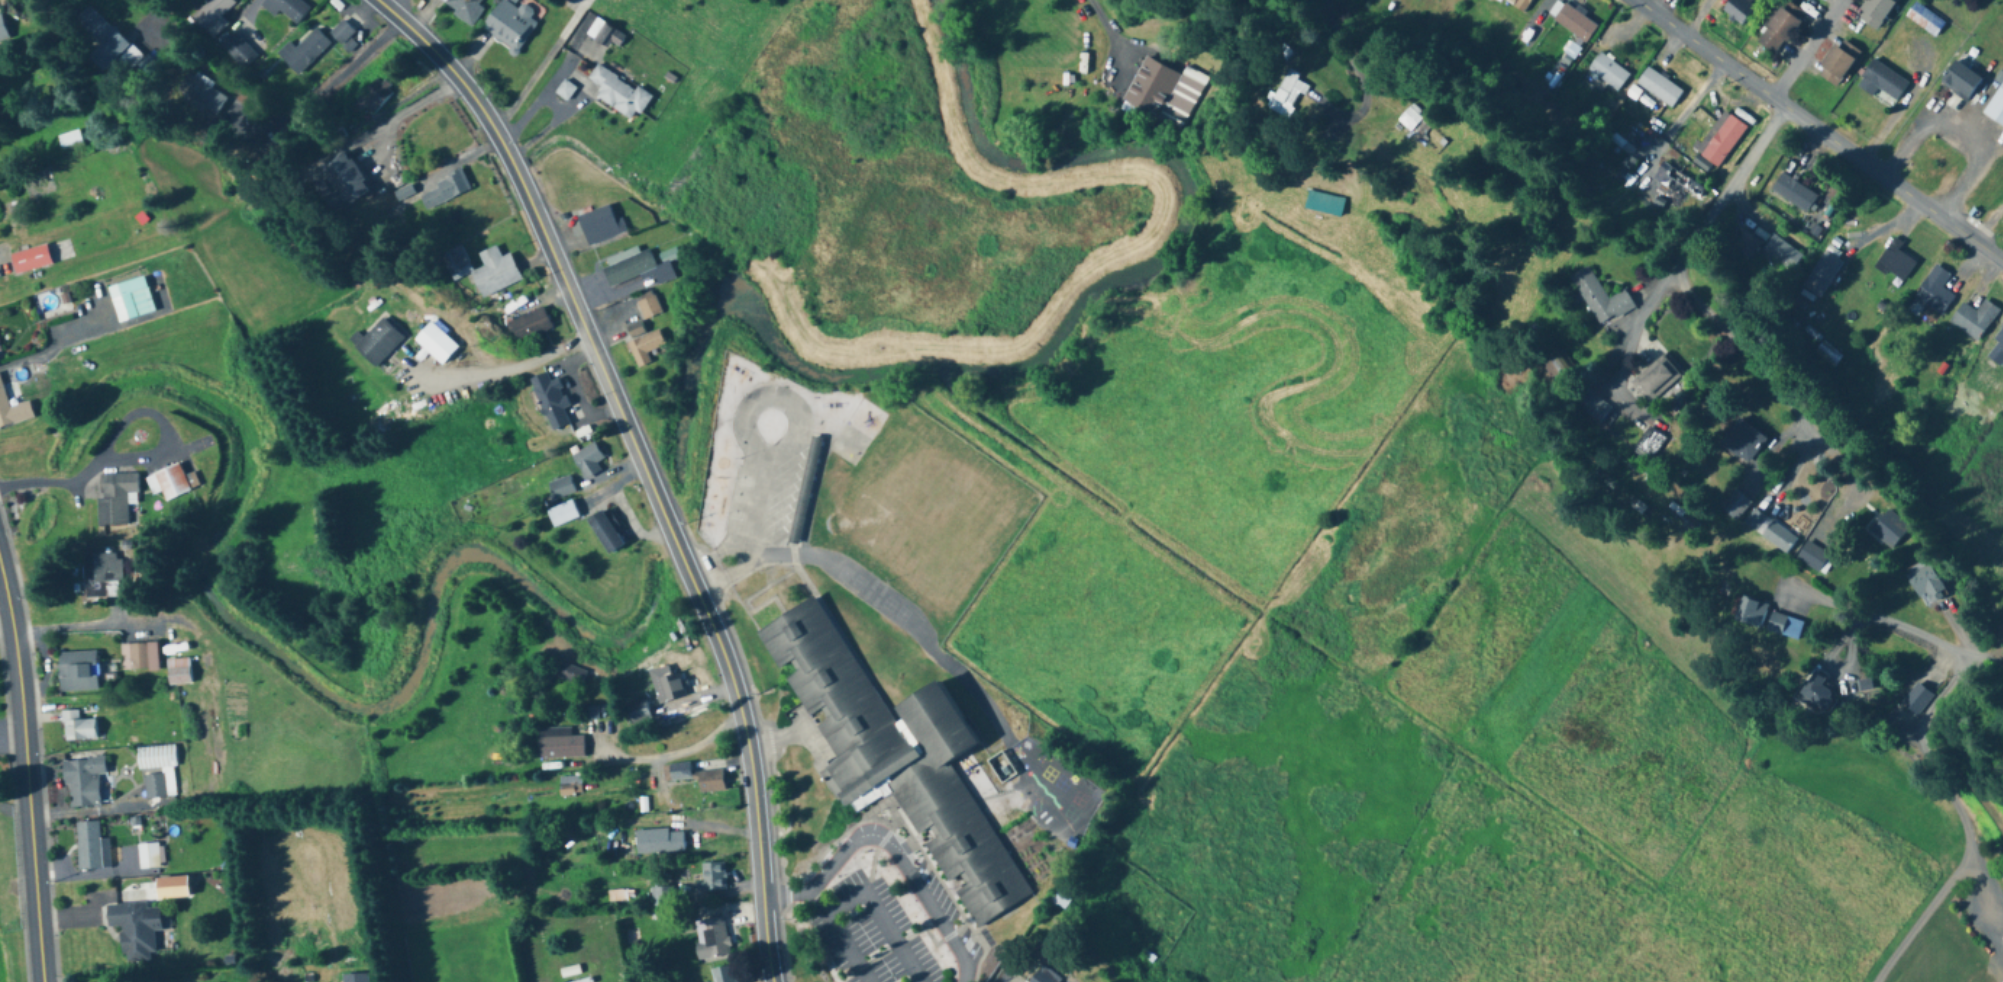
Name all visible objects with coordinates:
building: (1499, 0)
road: (390, 5)
building: (1521, 5)
building: (286, 8)
building: (463, 8)
building: (1738, 10)
building: (1875, 12)
building: (215, 14)
building: (1924, 19)
building: (1574, 23)
building: (510, 24)
building: (1777, 31)
building: (3, 32)
road: (1112, 33)
building: (342, 35)
building: (599, 40)
building: (104, 44)
road: (1804, 49)
building: (238, 50)
building: (303, 52)
building: (1837, 63)
building: (1608, 72)
road: (1355, 73)
road: (333, 79)
building: (1960, 81)
building: (1882, 83)
building: (1658, 88)
building: (565, 93)
building: (618, 94)
building: (203, 95)
building: (1162, 95)
building: (1290, 95)
road: (1730, 96)
building: (372, 97)
road: (556, 103)
road: (1683, 103)
building: (1996, 107)
road: (404, 108)
building: (1412, 120)
road: (1819, 132)
road: (1959, 134)
building: (70, 142)
building: (1722, 142)
building: (344, 179)
road: (1732, 184)
building: (1690, 186)
building: (444, 192)
building: (1793, 194)
building: (1323, 205)
building: (599, 226)
road: (546, 235)
building: (1781, 254)
building: (30, 260)
building: (1894, 265)
building: (635, 268)
building: (482, 270)
building: (1821, 275)
building: (1935, 292)
building: (1604, 299)
building: (132, 306)
building: (648, 306)
building: (1974, 320)
building: (529, 326)
building: (636, 332)
road: (1636, 336)
building: (378, 344)
building: (435, 344)
building: (645, 348)
building: (1998, 354)
building: (1827, 355)
road: (508, 367)
building: (1561, 367)
road: (1763, 368)
building: (1660, 380)
building: (1983, 397)
road: (762, 399)
building: (550, 402)
building: (1599, 406)
building: (12, 411)
road: (156, 422)
building: (1746, 442)
building: (1654, 444)
building: (588, 461)
road: (52, 481)
building: (169, 482)
building: (561, 488)
building: (804, 490)
building: (115, 498)
parking lot: (781, 500)
building: (1739, 506)
building: (561, 514)
park: (938, 514)
building: (1891, 525)
road: (747, 526)
building: (604, 532)
building: (1774, 533)
road: (751, 535)
building: (1817, 558)
building: (102, 576)
building: (1929, 586)
building: (1752, 614)
road: (131, 621)
road: (1887, 625)
road: (8, 626)
building: (1787, 627)
road: (926, 647)
road: (45, 655)
building: (139, 657)
building: (78, 672)
building: (178, 672)
road: (1989, 672)
building: (568, 674)
building: (670, 687)
building: (1817, 694)
building: (1918, 700)
building: (638, 712)
building: (77, 728)
road: (745, 736)
building: (559, 744)
road: (676, 751)
building: (892, 754)
building: (156, 758)
road: (31, 776)
building: (695, 777)
building: (83, 782)
building: (154, 786)
building: (570, 786)
road: (1967, 825)
building: (659, 841)
building: (88, 845)
road: (891, 846)
building: (713, 876)
parking lot: (937, 897)
building: (1060, 897)
road: (881, 919)
building: (135, 927)
parking lot: (868, 934)
road: (836, 936)
building: (715, 937)
building: (722, 974)
road: (1004, 974)
building: (1045, 975)

